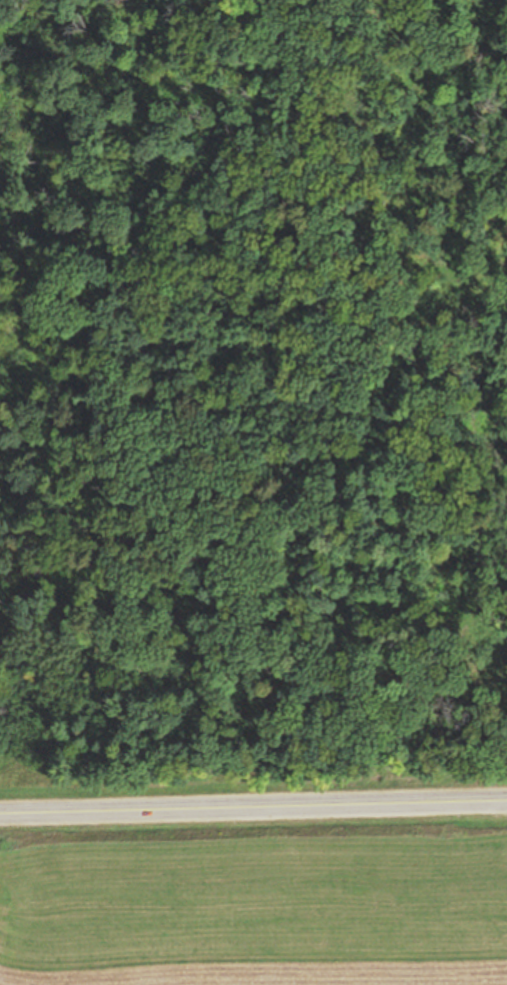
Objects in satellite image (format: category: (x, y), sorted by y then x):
road: (253, 812)

